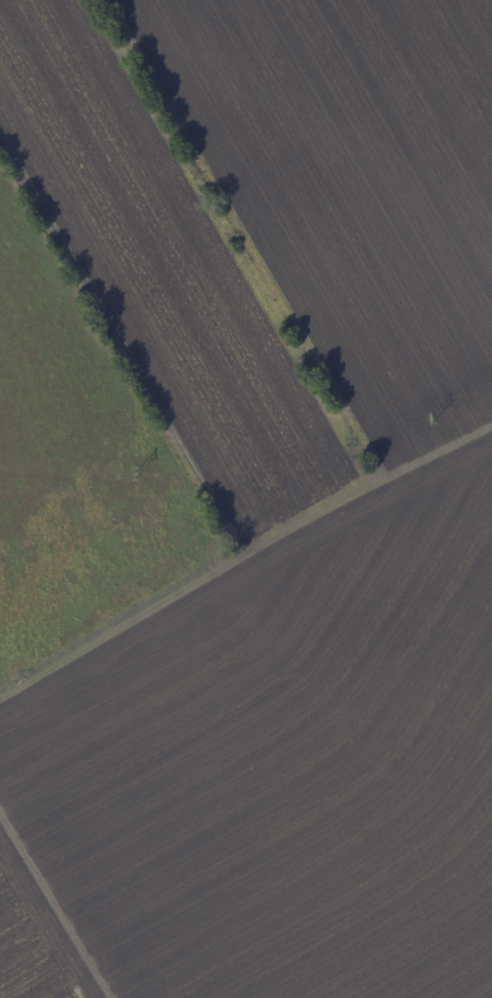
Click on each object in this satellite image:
power tower: (423, 421)
power tower: (125, 475)

